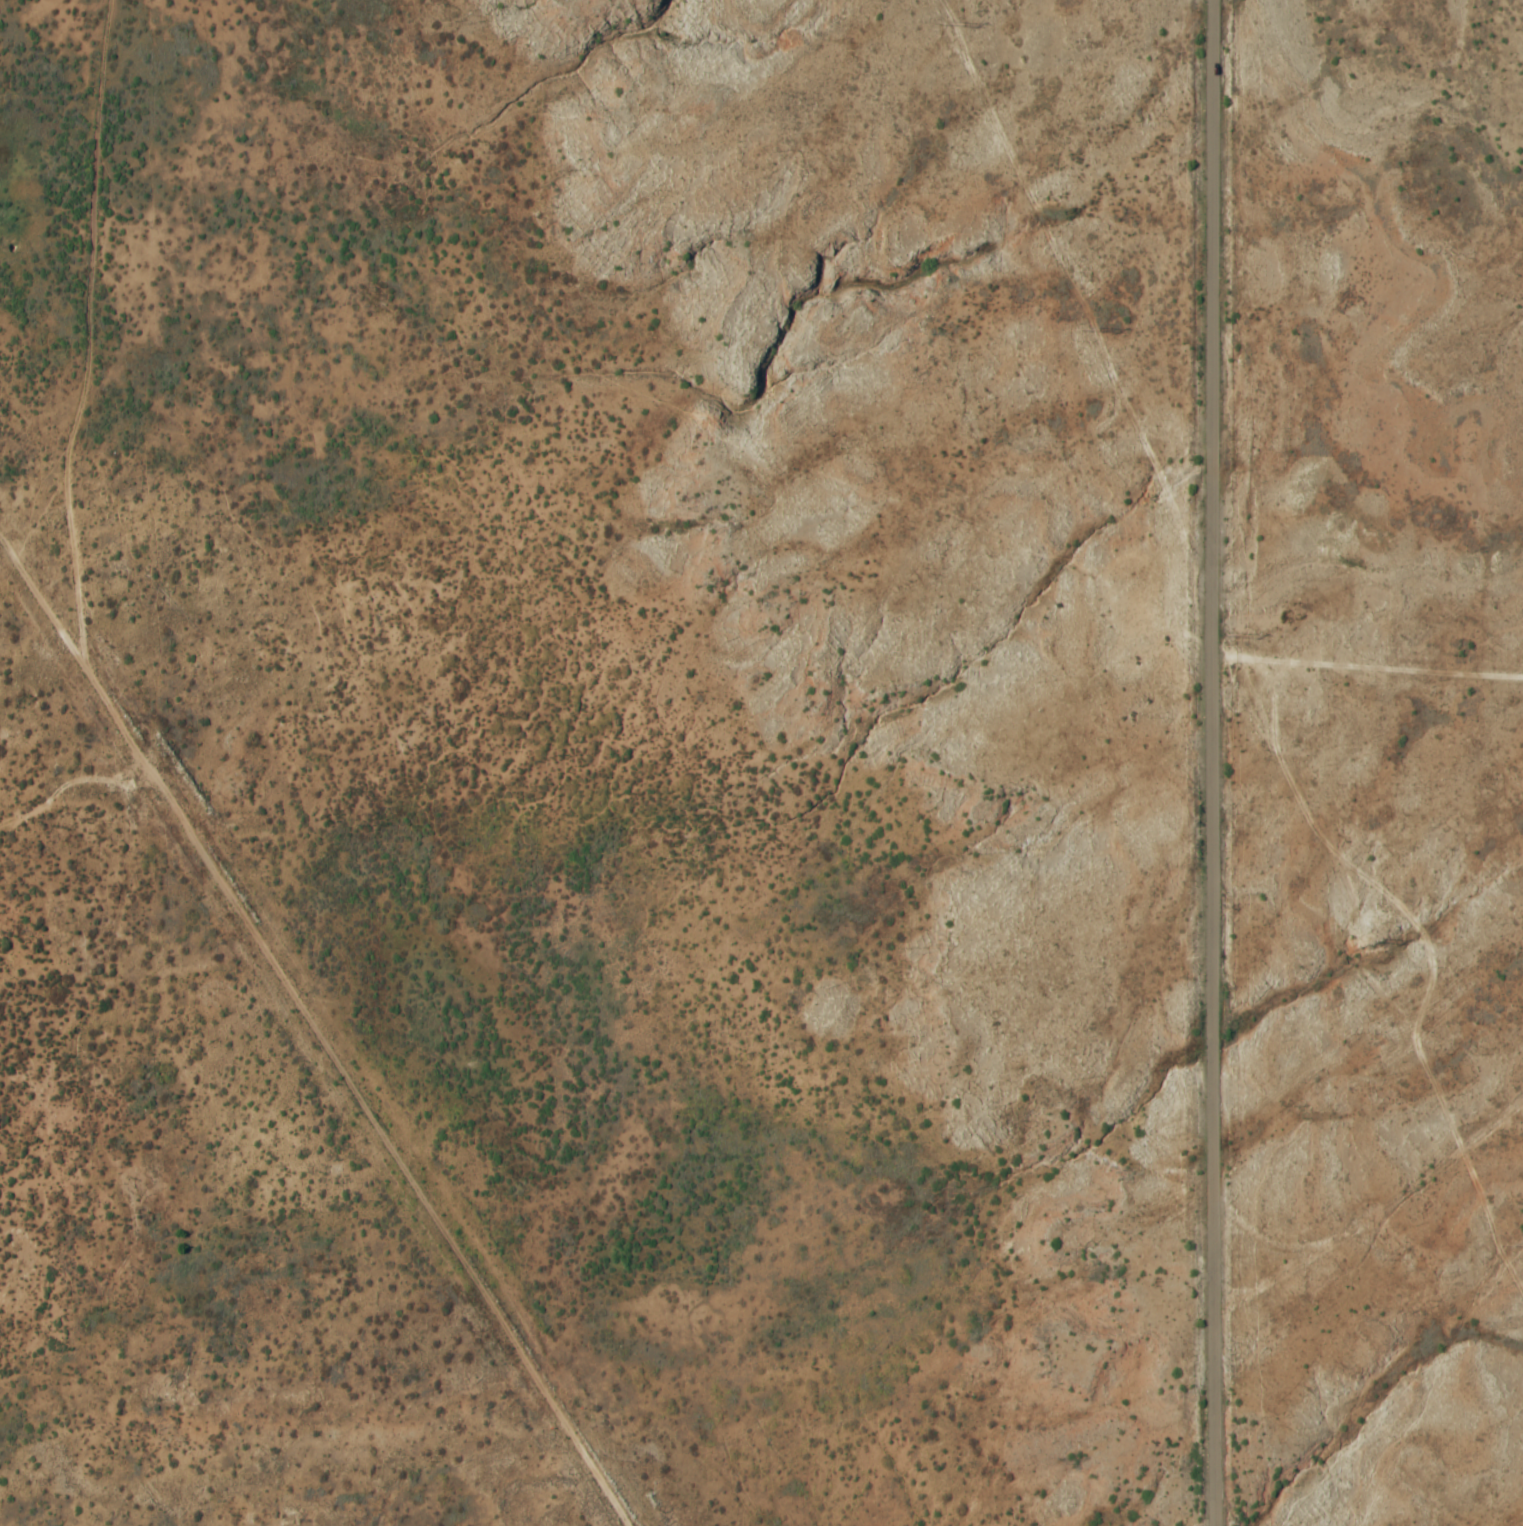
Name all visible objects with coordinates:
power tower: (946, 21)
power tower: (1089, 326)
road: (20, 616)
power tower: (1229, 632)
road: (1215, 762)
power tower: (1367, 938)
road: (316, 1084)
road: (1378, 1211)
power tower: (1509, 1243)

